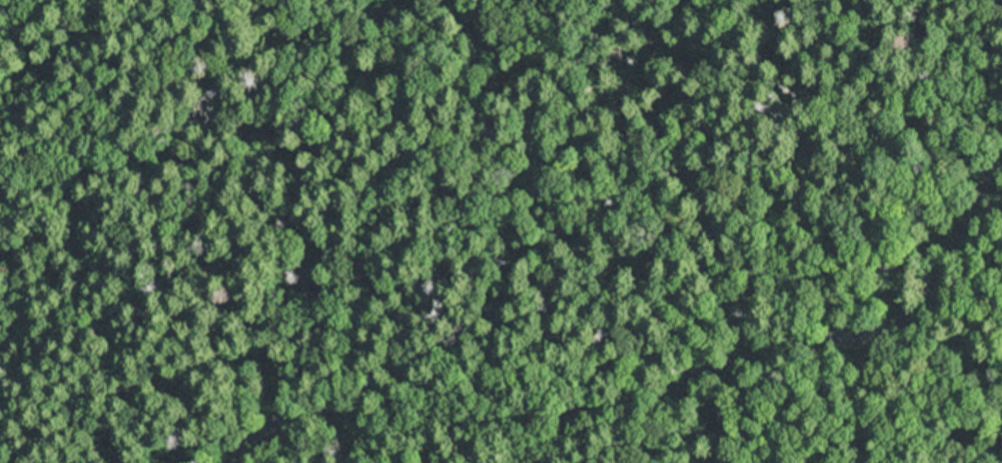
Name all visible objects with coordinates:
road: (654, 391)

